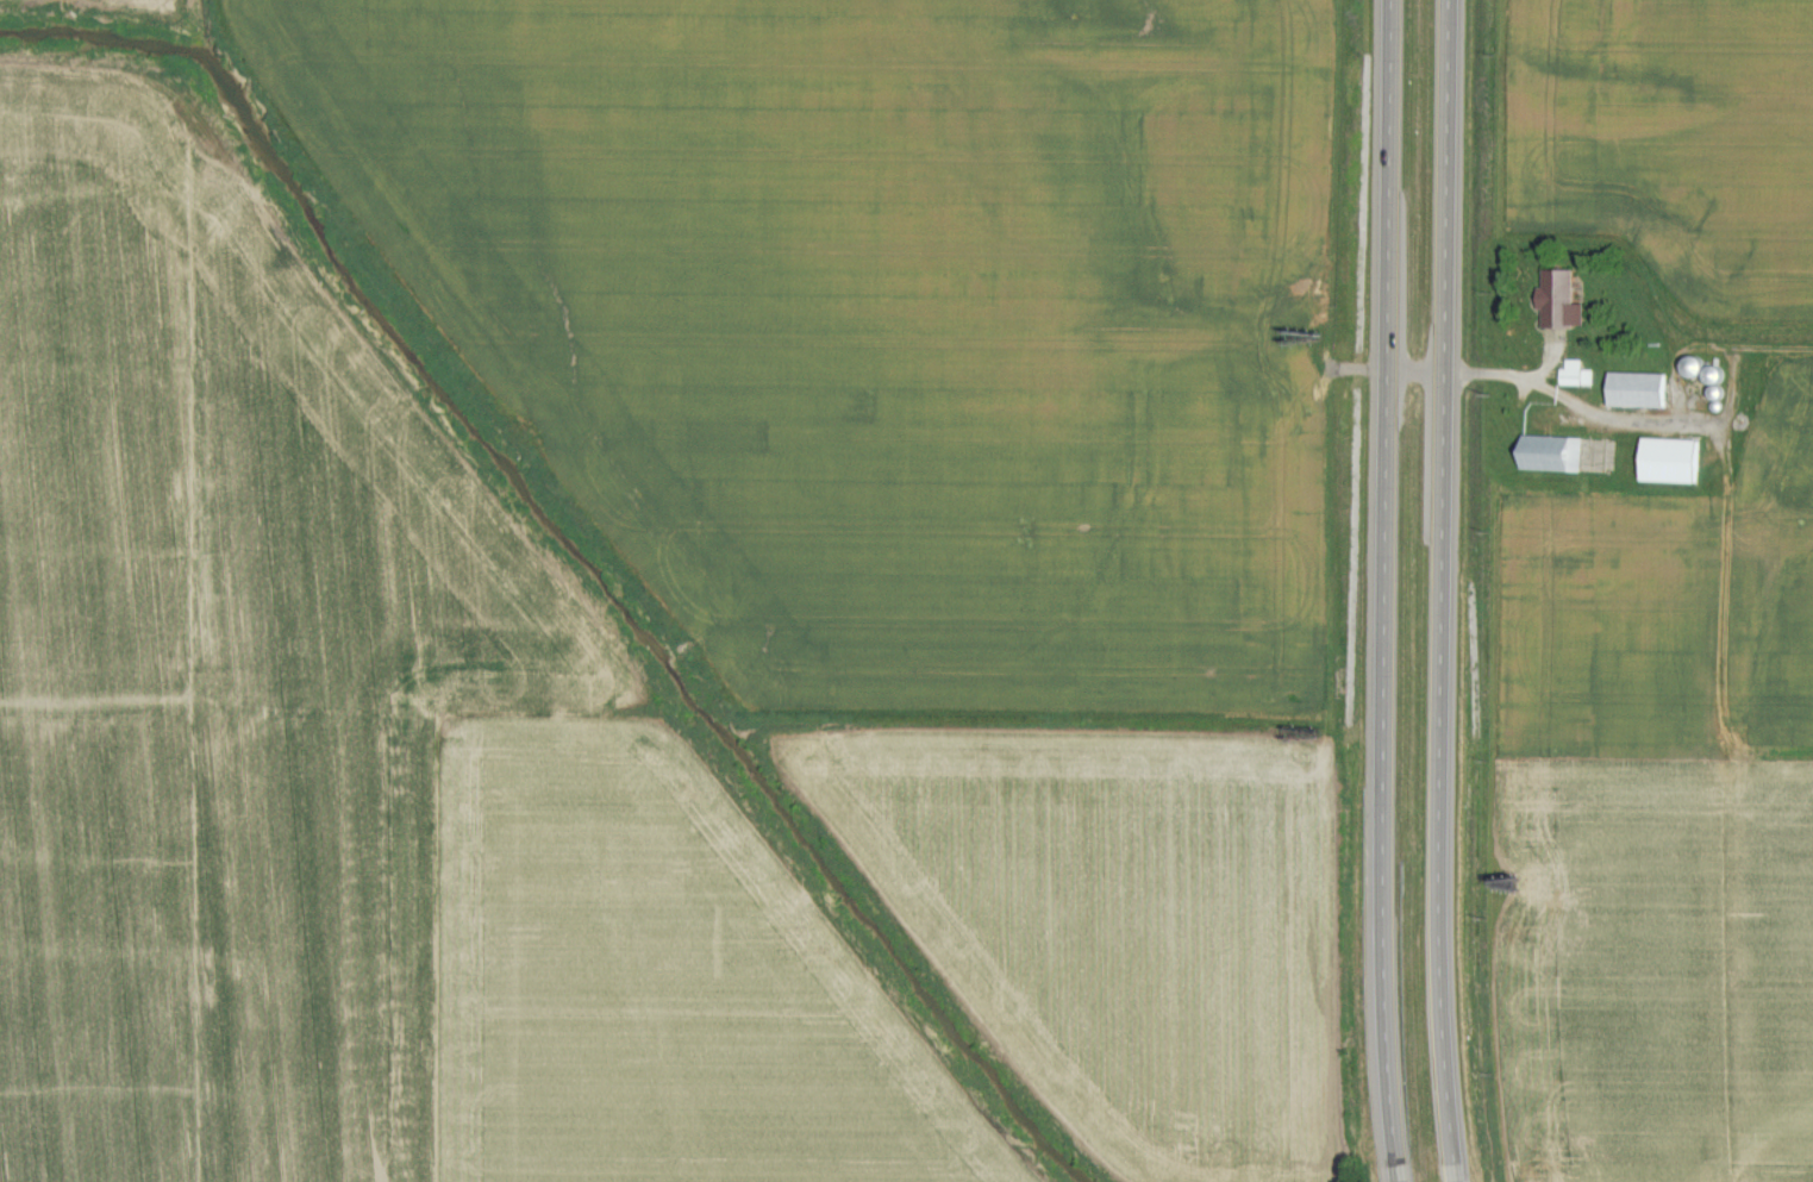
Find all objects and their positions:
building: (1556, 300)
road: (1540, 387)
building: (1633, 392)
building: (1546, 456)
building: (1664, 462)
road: (1382, 590)
road: (1440, 590)

